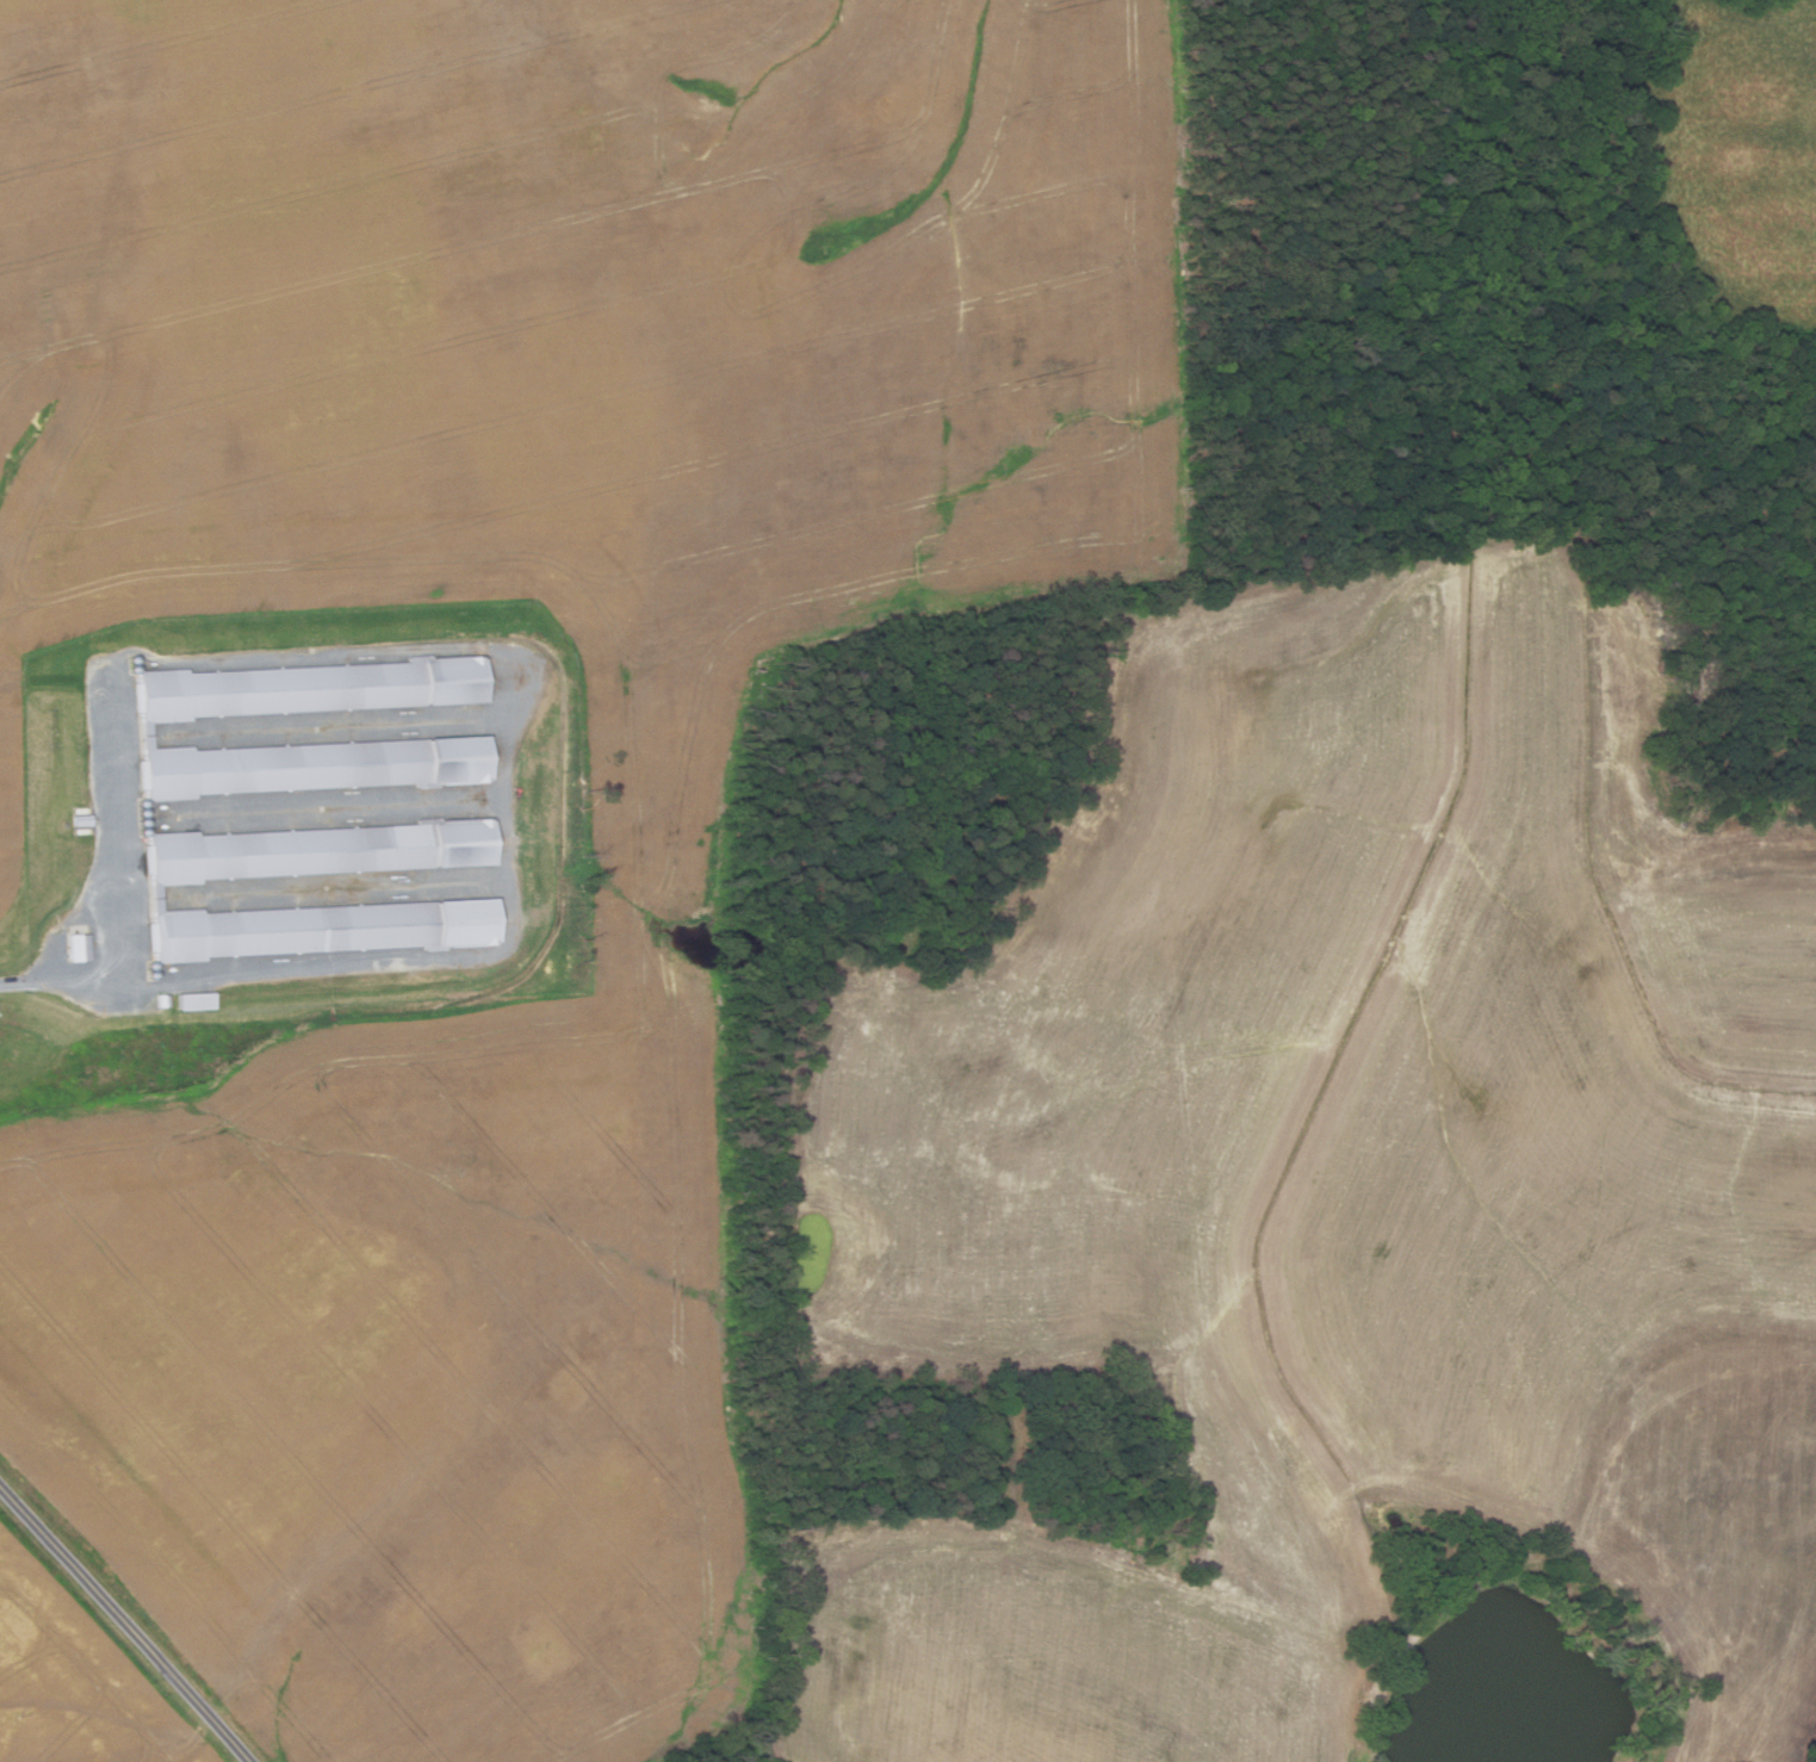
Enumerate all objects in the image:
building: (315, 687)
building: (316, 764)
building: (83, 819)
building: (321, 851)
crop: (656, 876)
building: (327, 927)
building: (79, 947)
road: (60, 982)
building: (162, 1000)
building: (197, 1000)
road: (126, 1623)
crop: (76, 1676)

